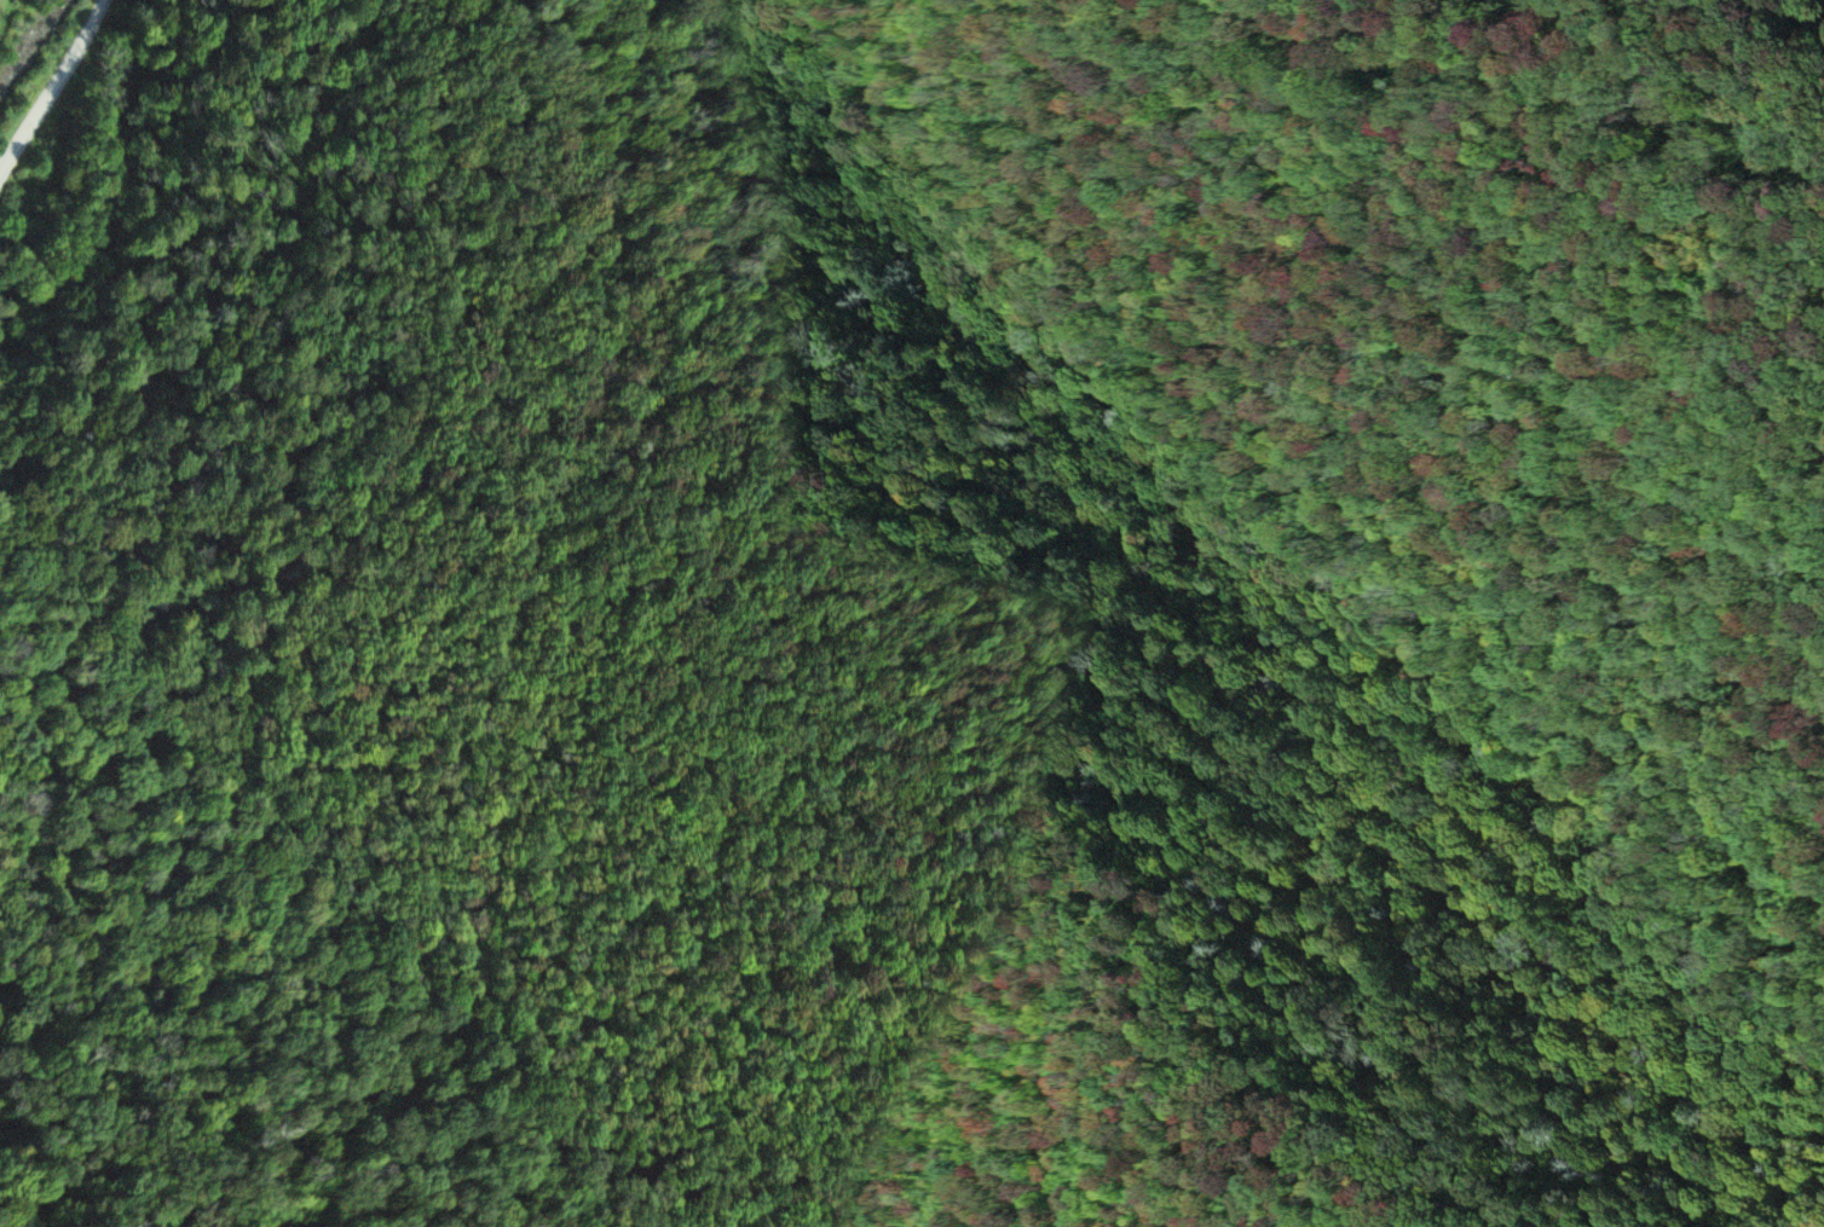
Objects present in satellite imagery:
river: (40, 46)
road: (54, 88)
road: (733, 301)

